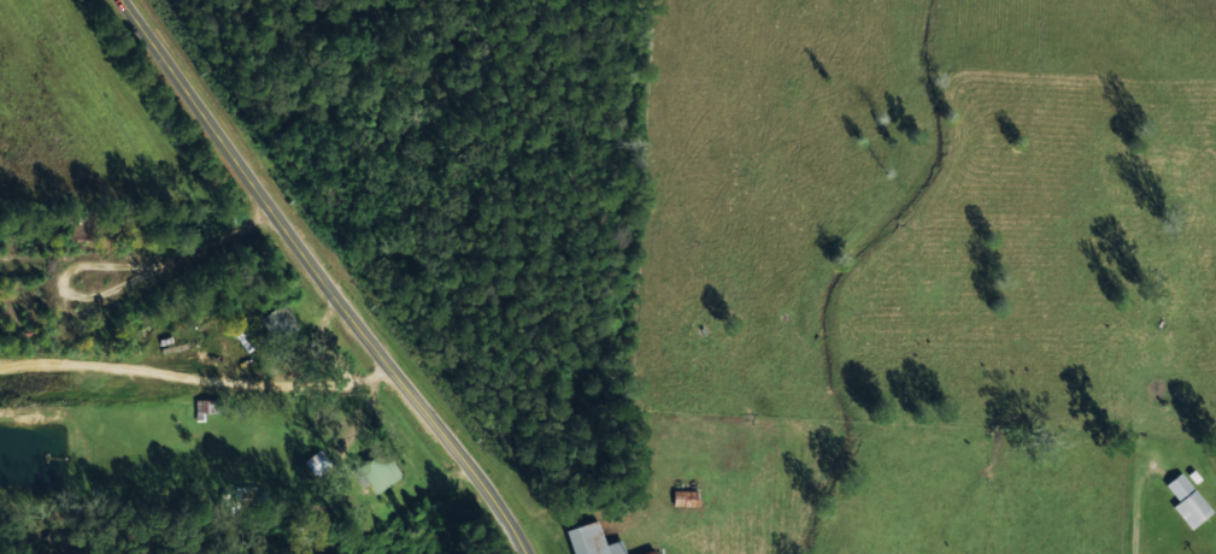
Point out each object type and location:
road: (323, 277)
building: (277, 320)
building: (382, 473)
building: (1187, 500)
building: (592, 540)
building: (650, 552)

